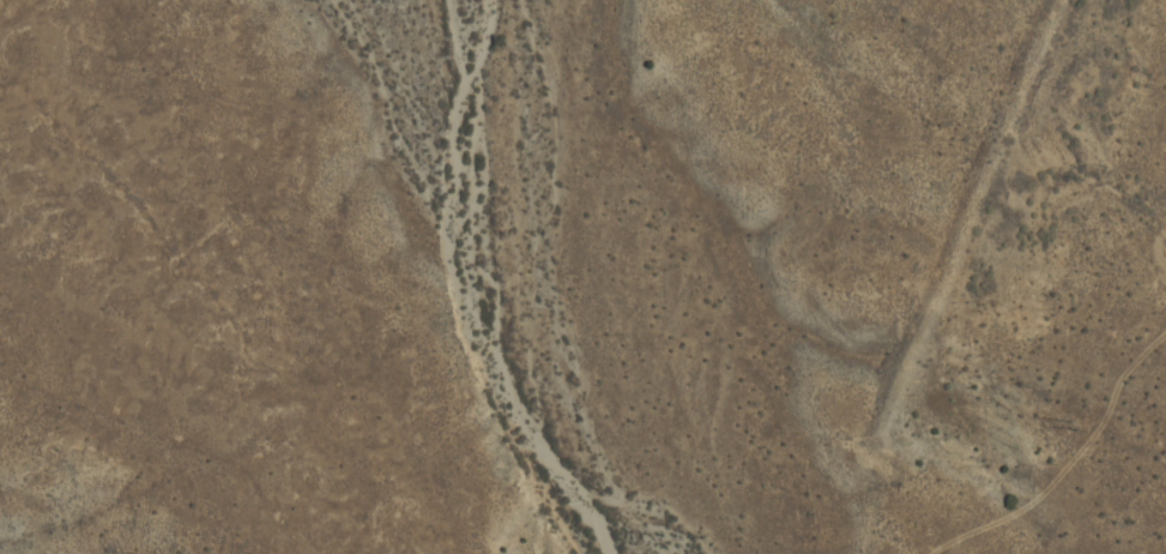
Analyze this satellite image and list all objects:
power tower: (1082, 432)

